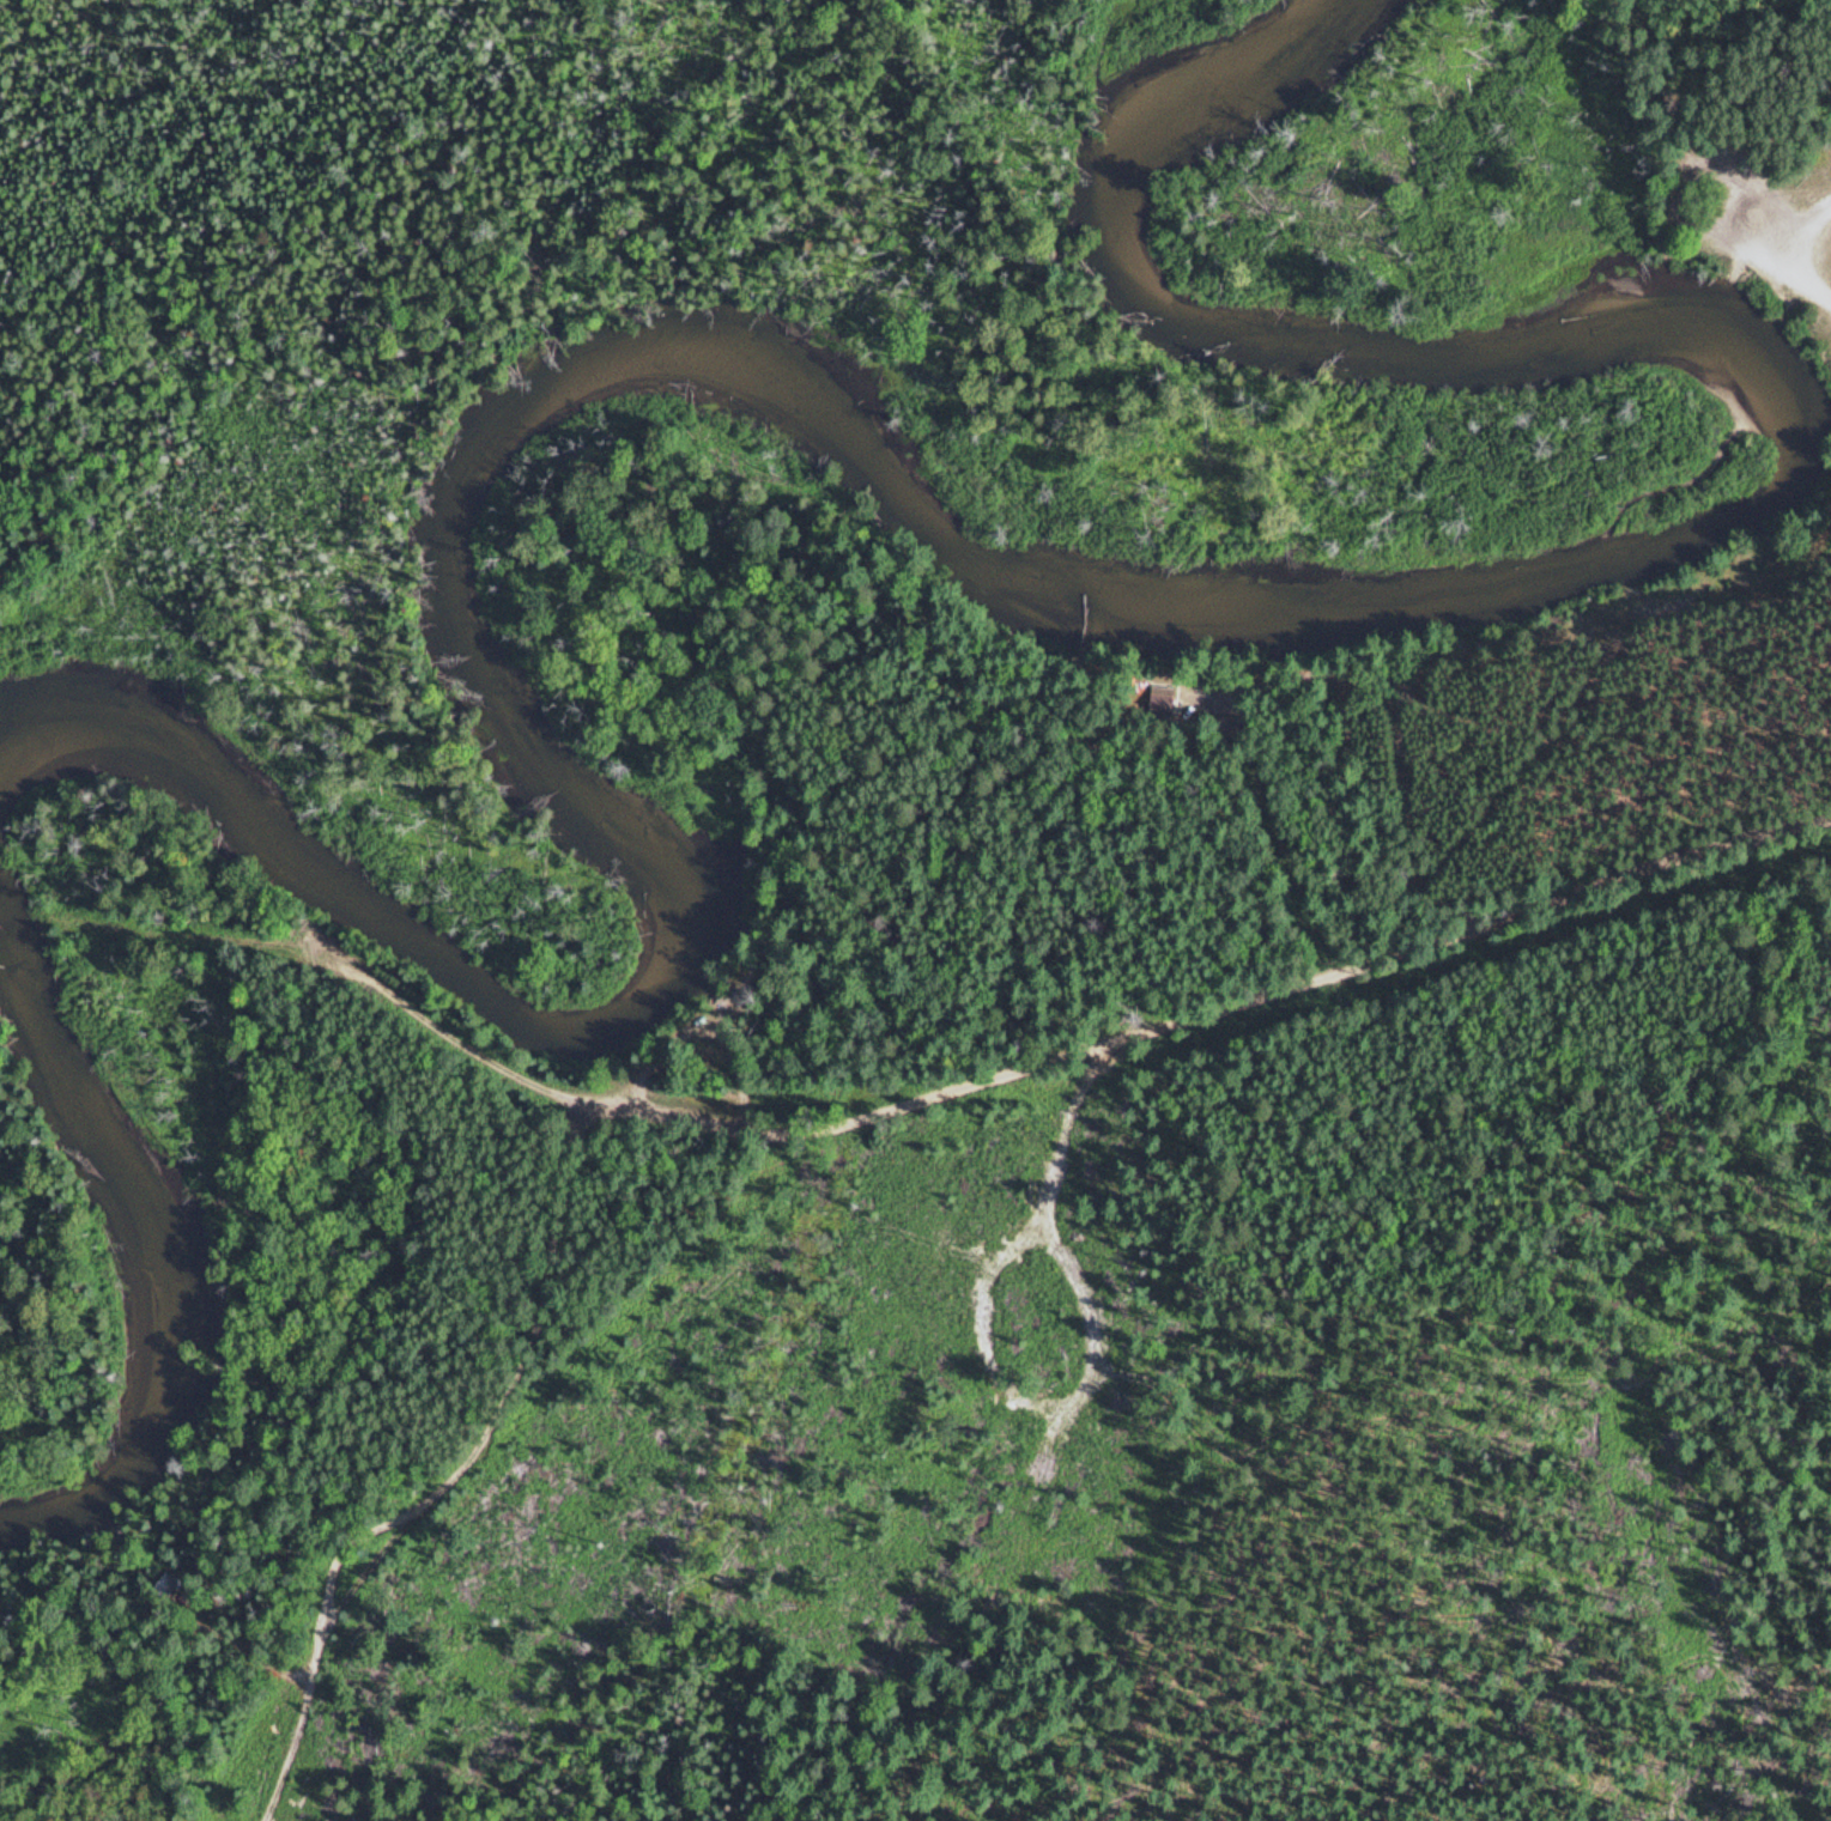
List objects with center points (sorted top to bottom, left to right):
road: (1684, 184)
parking lot: (1766, 237)
road: (1752, 249)
river: (965, 530)
building: (1164, 700)
building: (1238, 727)
road: (1474, 813)
building: (709, 1044)
road: (1067, 1051)
river: (160, 1256)
road: (449, 1477)
building: (166, 1577)

